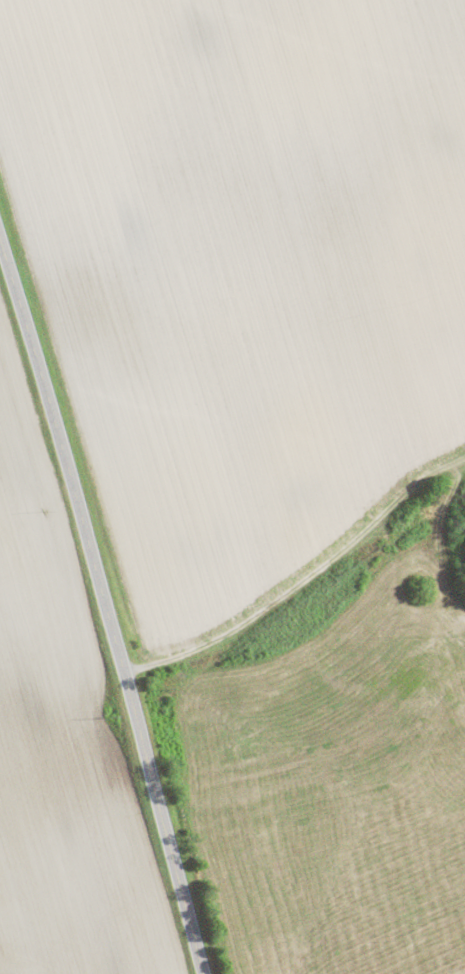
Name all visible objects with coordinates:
road: (303, 588)
road: (103, 606)

